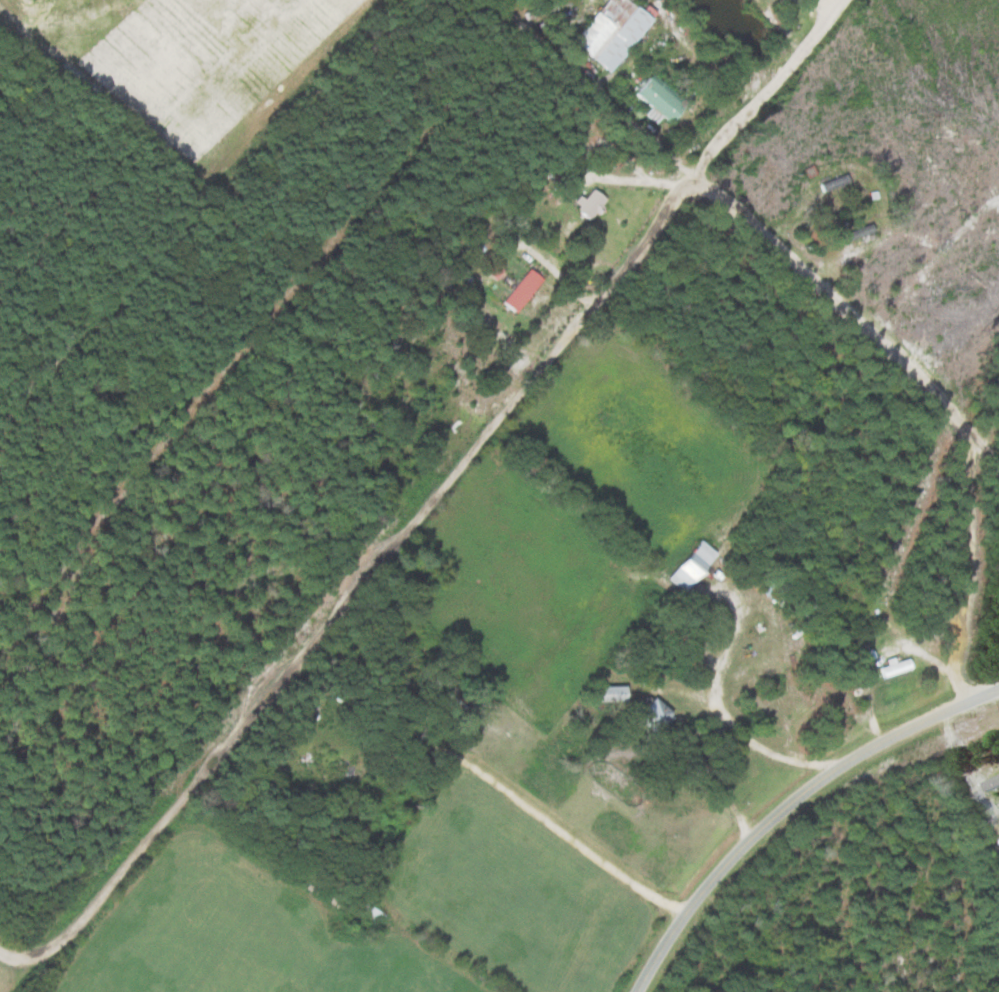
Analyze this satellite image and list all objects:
building: (610, 32)
road: (606, 91)
road: (769, 92)
building: (659, 98)
building: (833, 184)
building: (587, 205)
building: (859, 236)
building: (520, 292)
road: (934, 393)
building: (689, 566)
road: (354, 587)
building: (894, 668)
building: (606, 695)
building: (806, 711)
building: (650, 716)
building: (324, 776)
building: (991, 776)
road: (787, 804)

